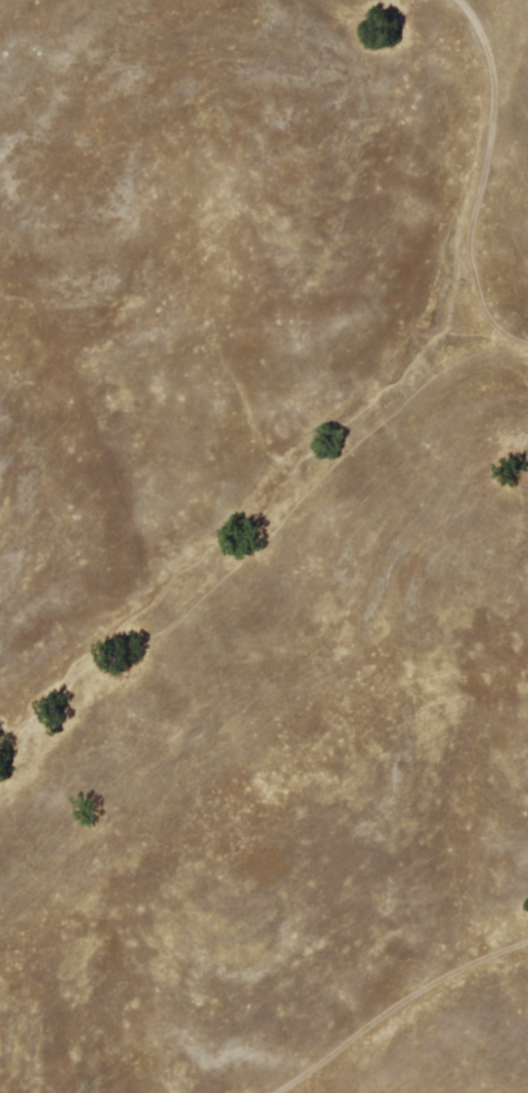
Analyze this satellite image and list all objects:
road: (483, 177)
road: (397, 1007)

